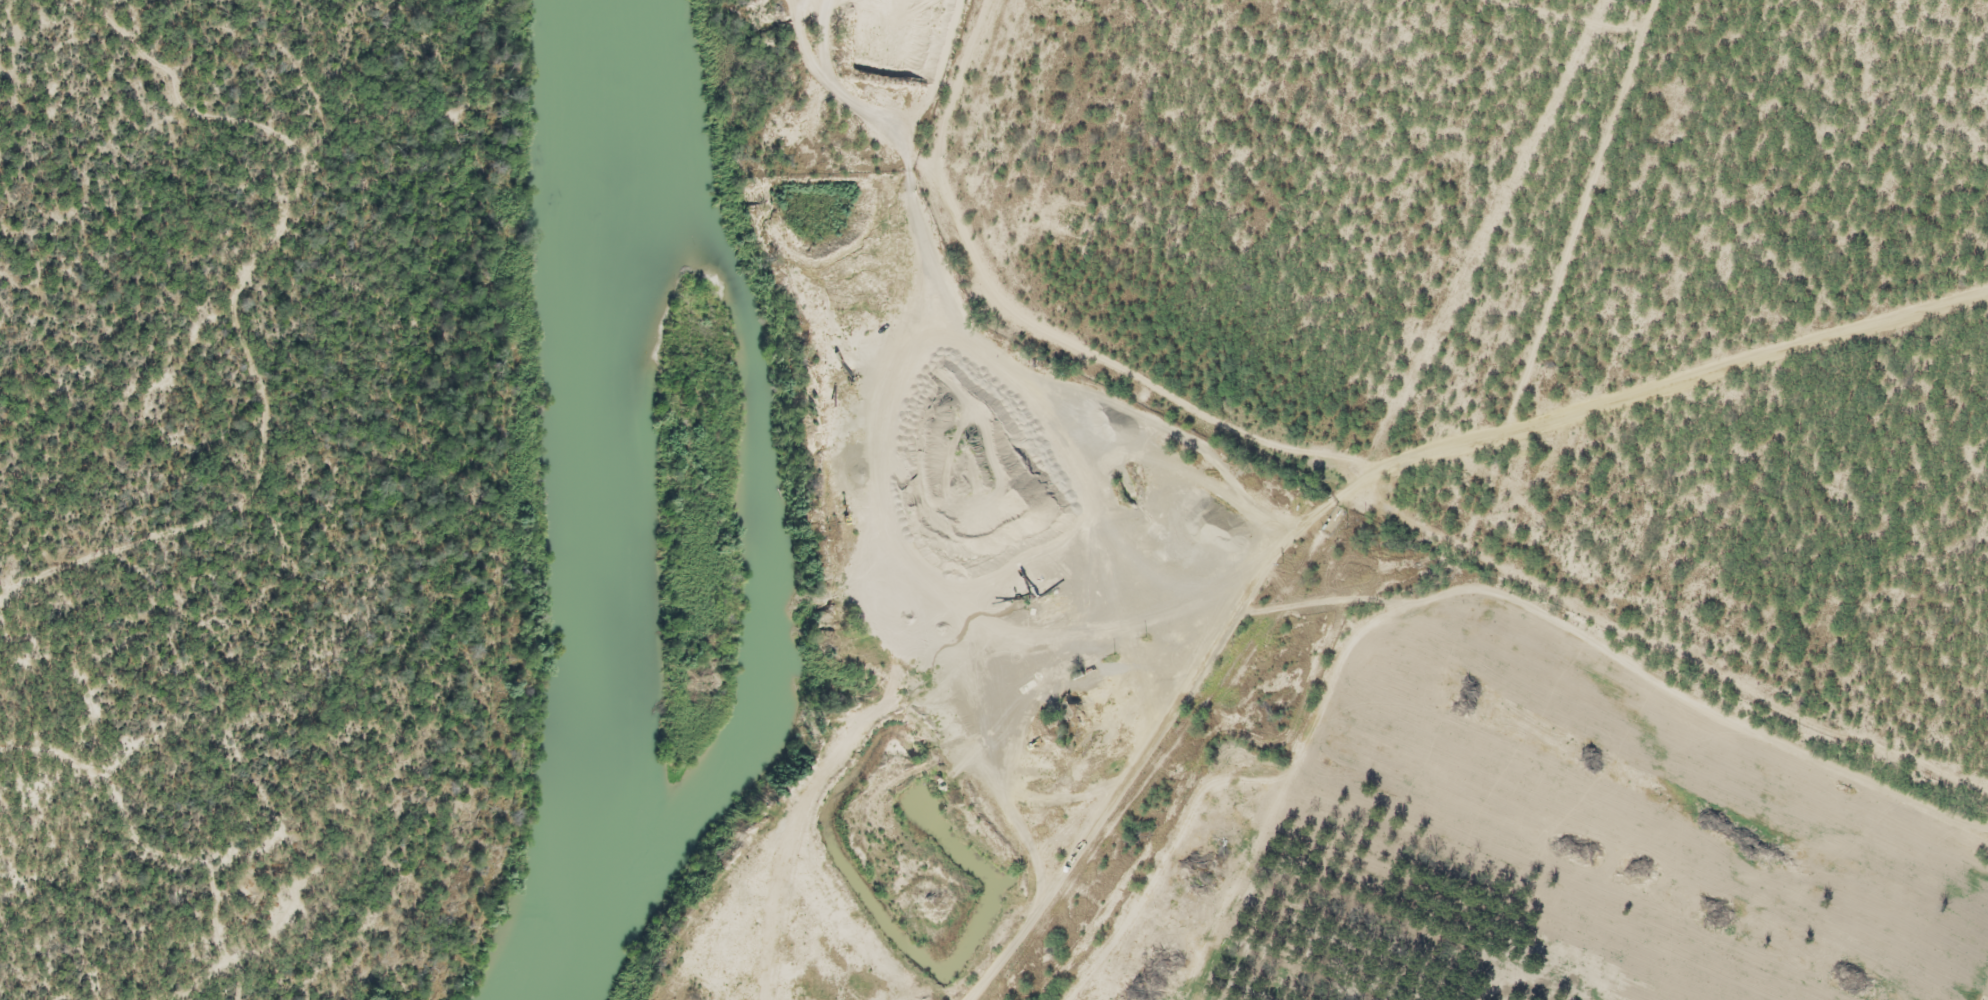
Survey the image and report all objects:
road: (1357, 475)
road: (1348, 492)
river: (592, 505)
river: (766, 533)

